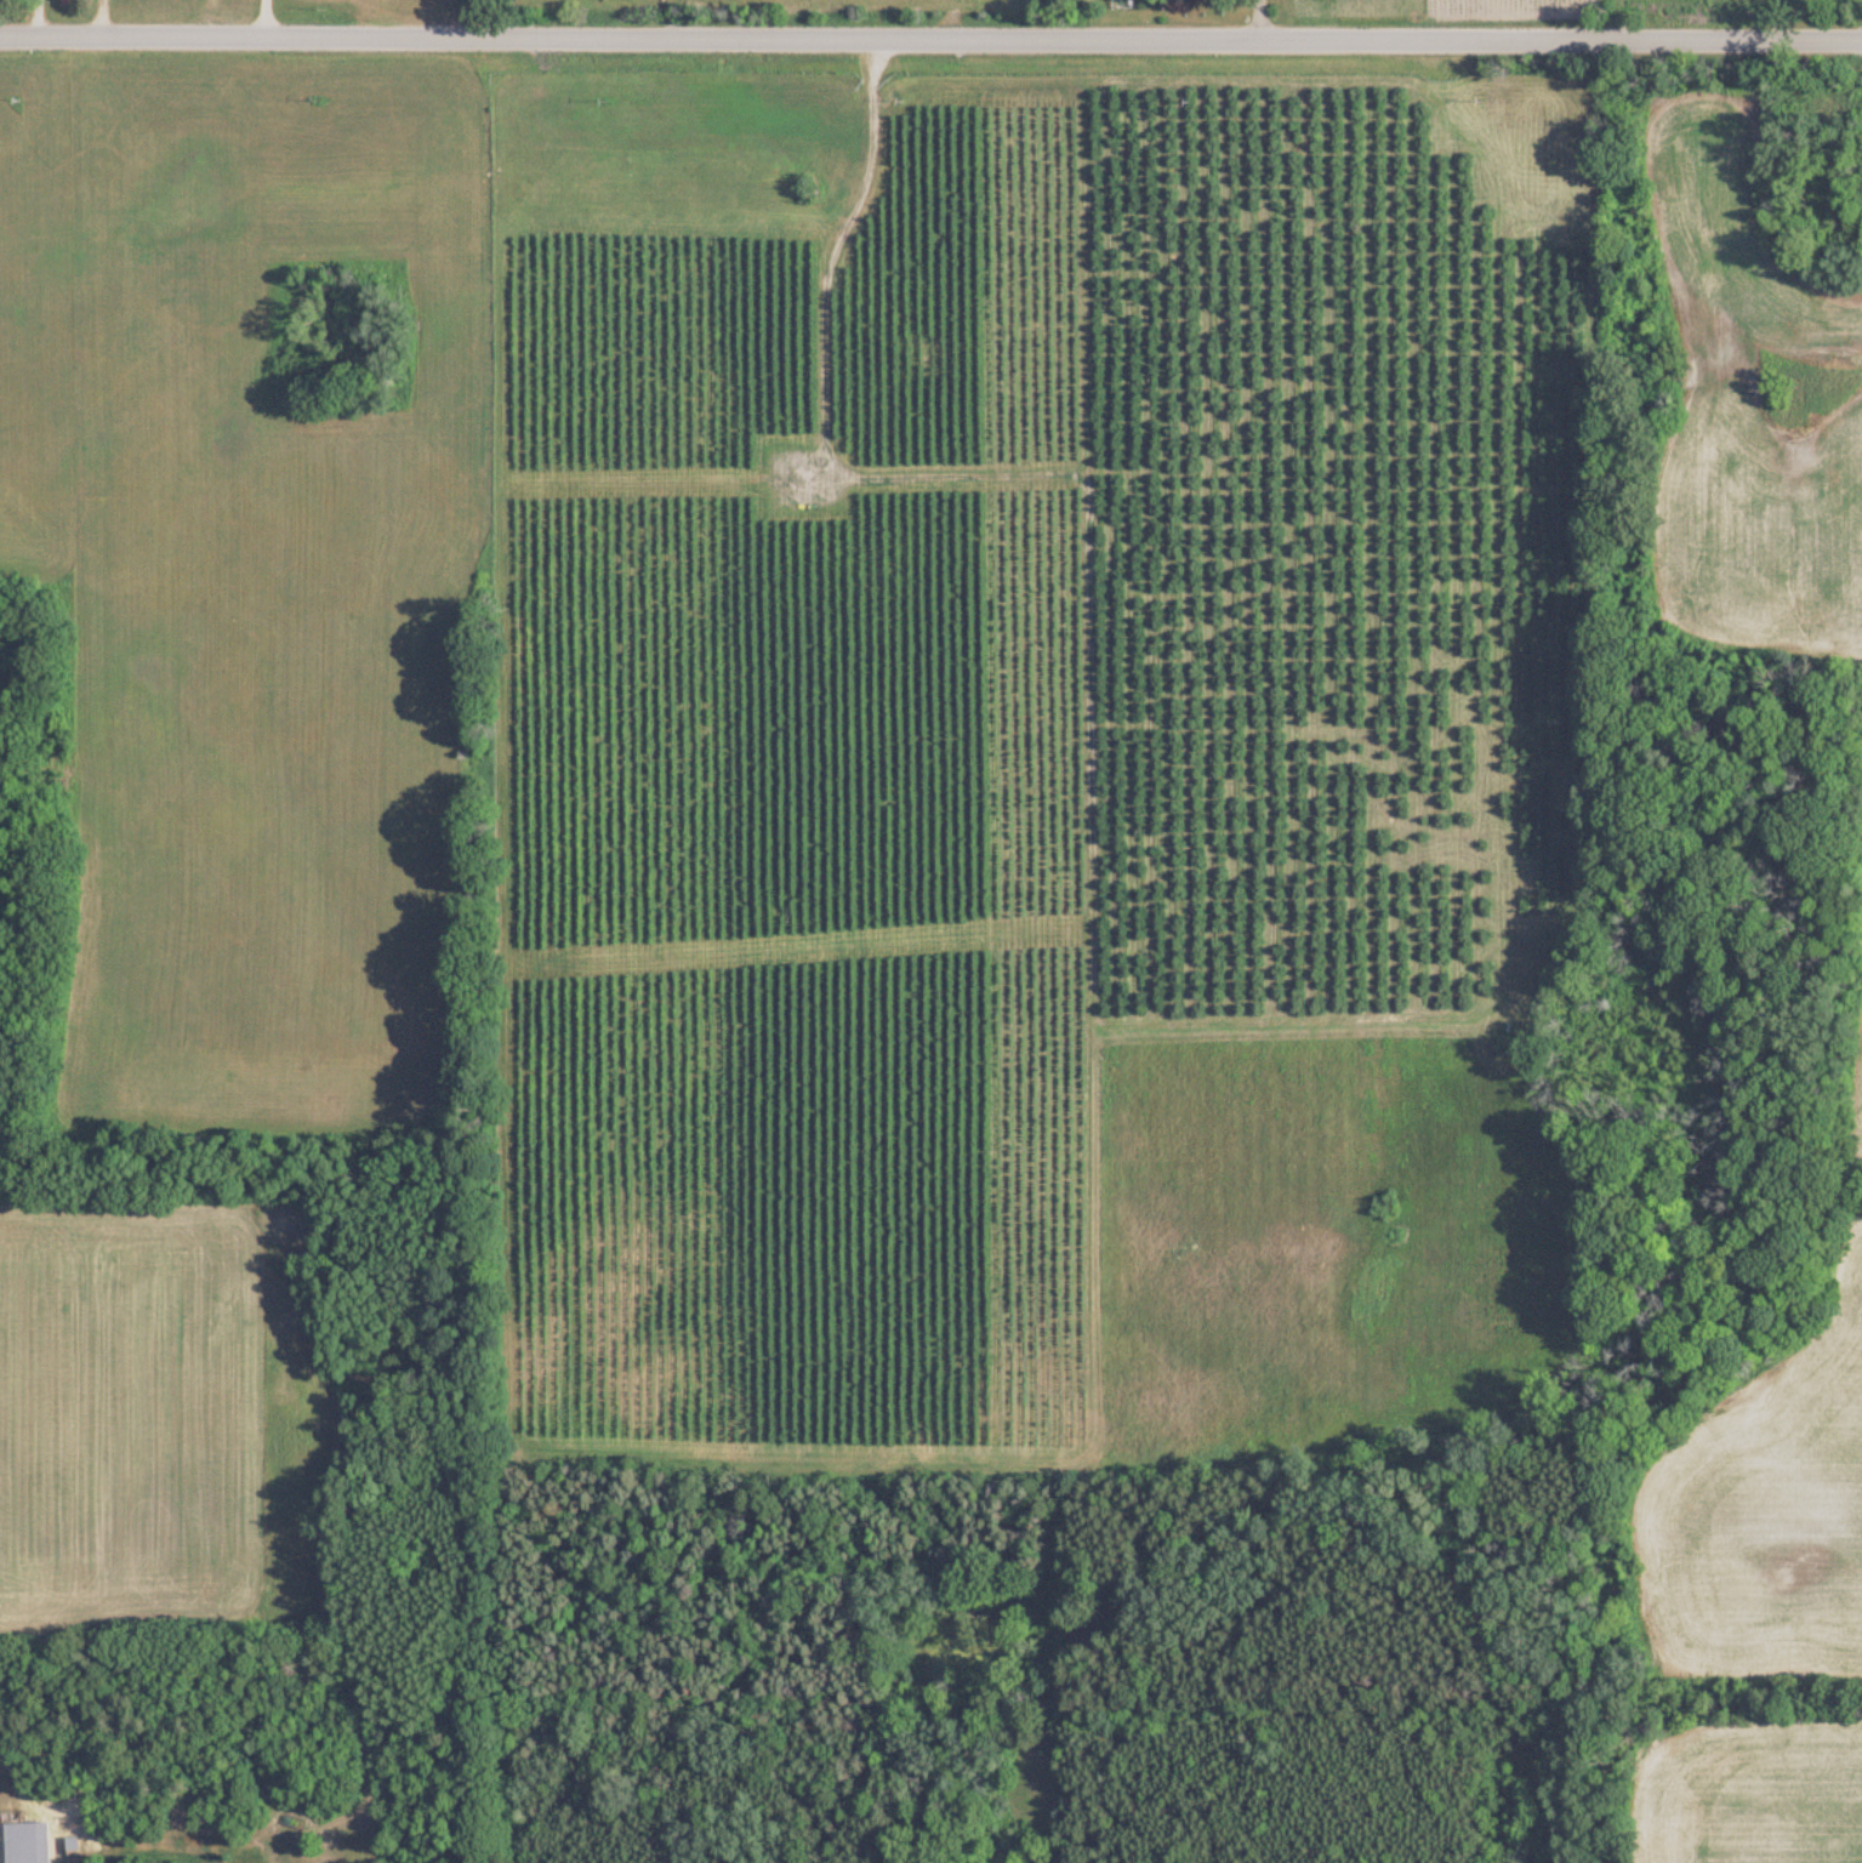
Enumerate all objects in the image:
road: (262, 16)
road: (1260, 17)
road: (930, 34)
road: (832, 249)
building: (11, 1842)
building: (69, 1848)

